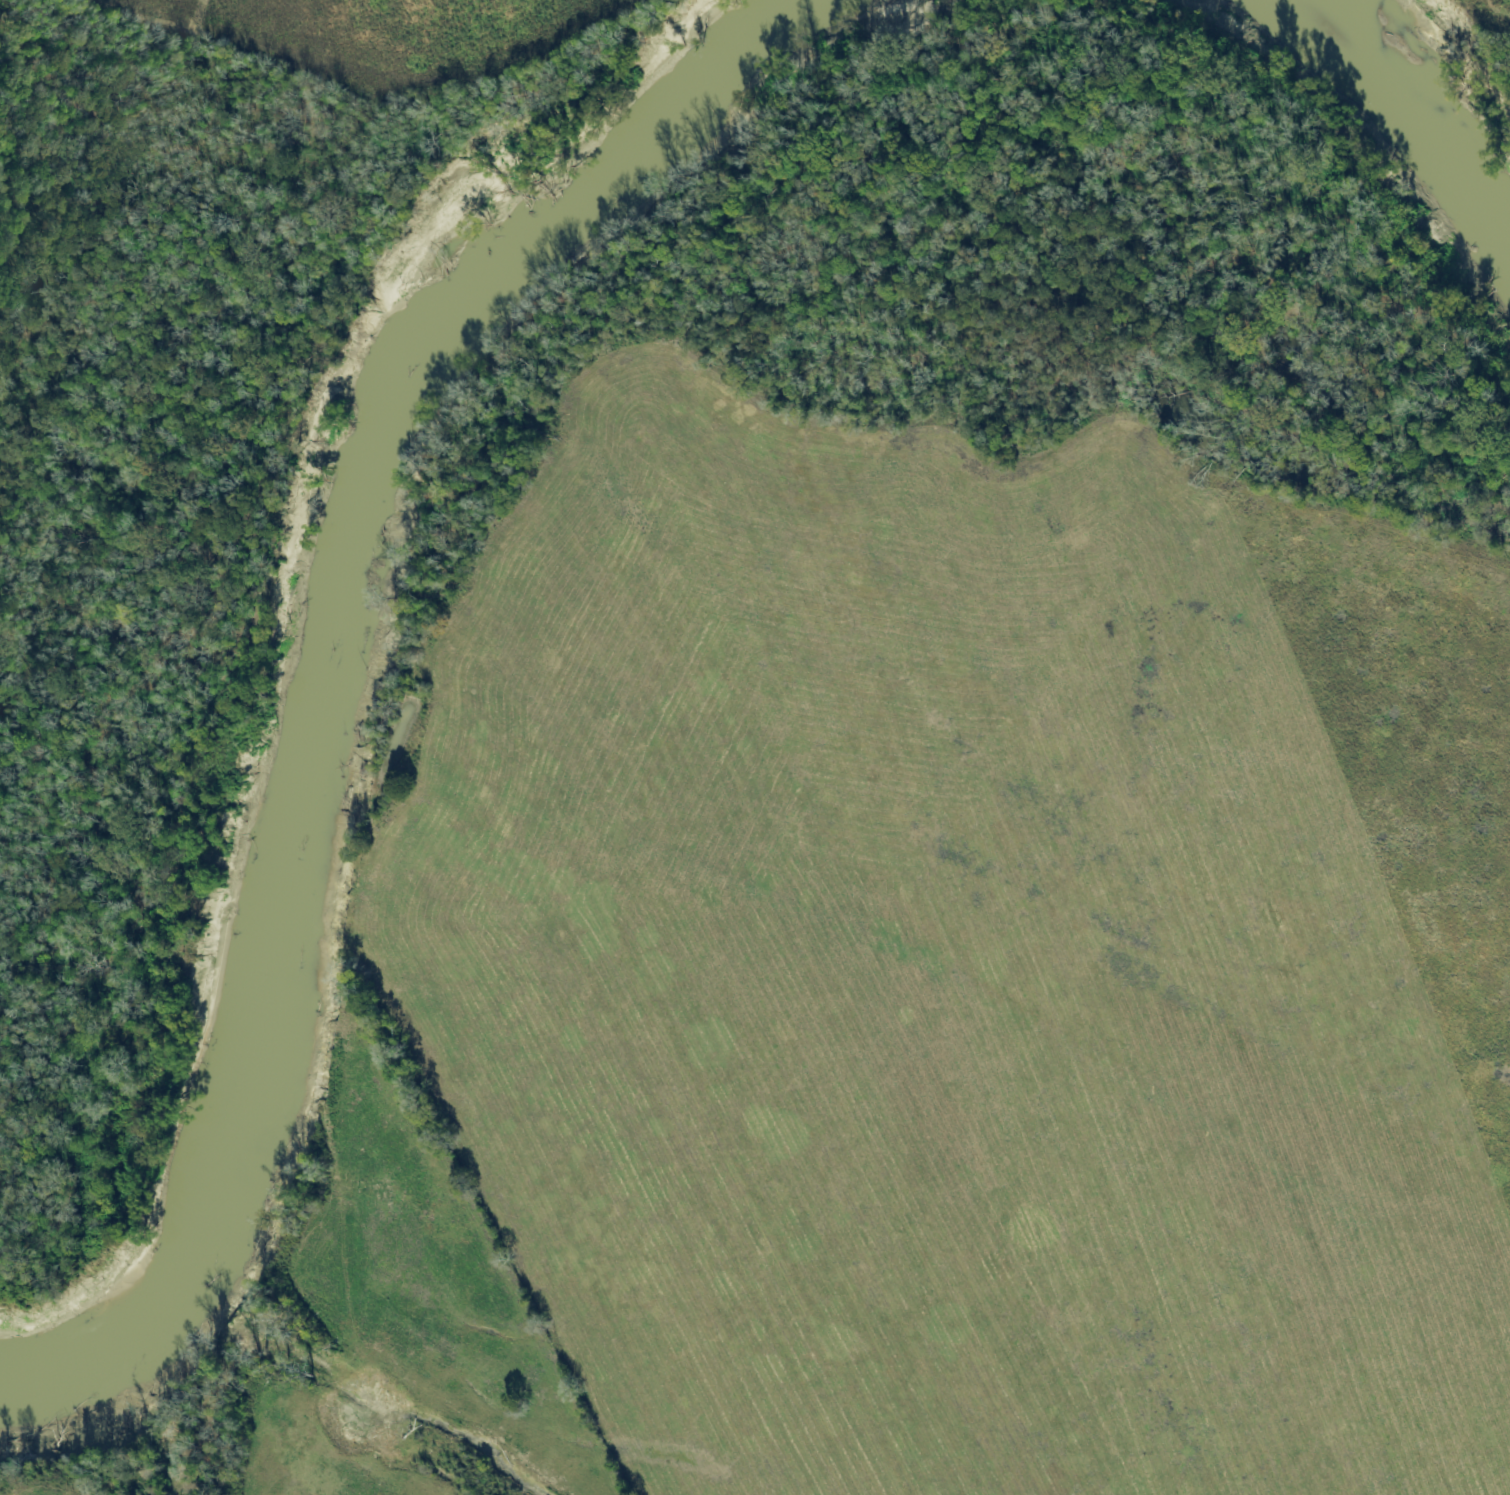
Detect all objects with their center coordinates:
river: (1411, 120)
river: (314, 642)

